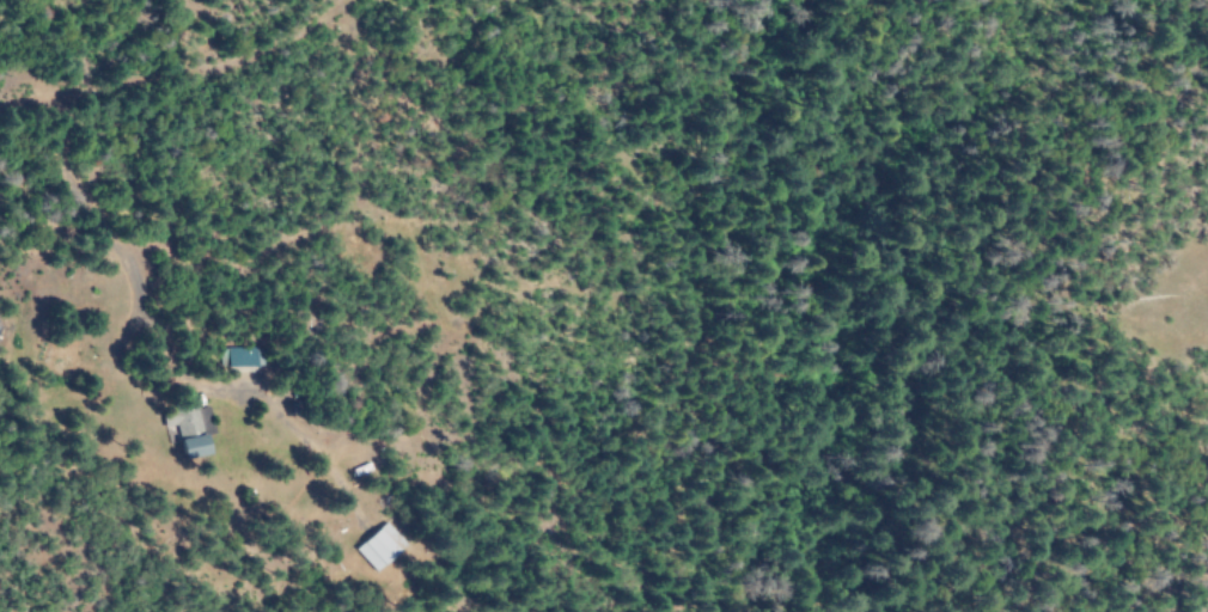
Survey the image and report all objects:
building: (189, 421)
building: (376, 545)

